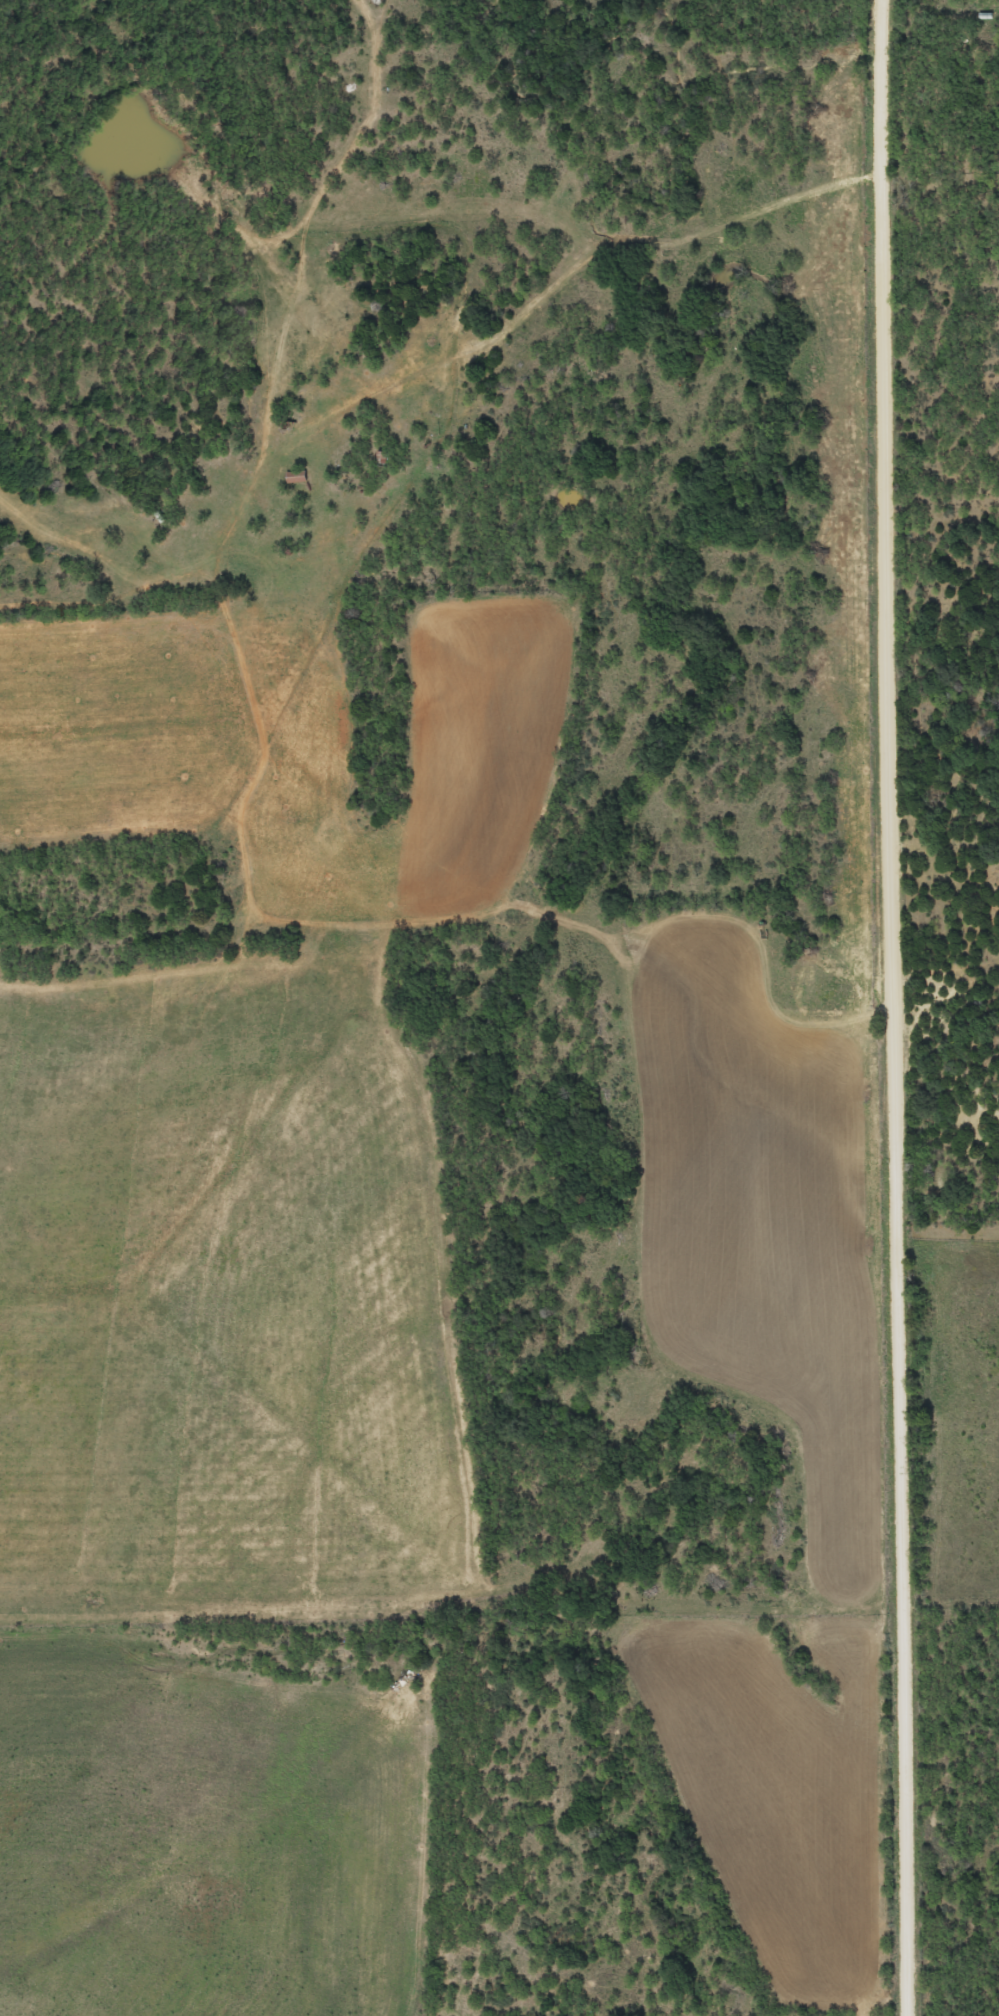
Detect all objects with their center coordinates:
road: (897, 1007)

